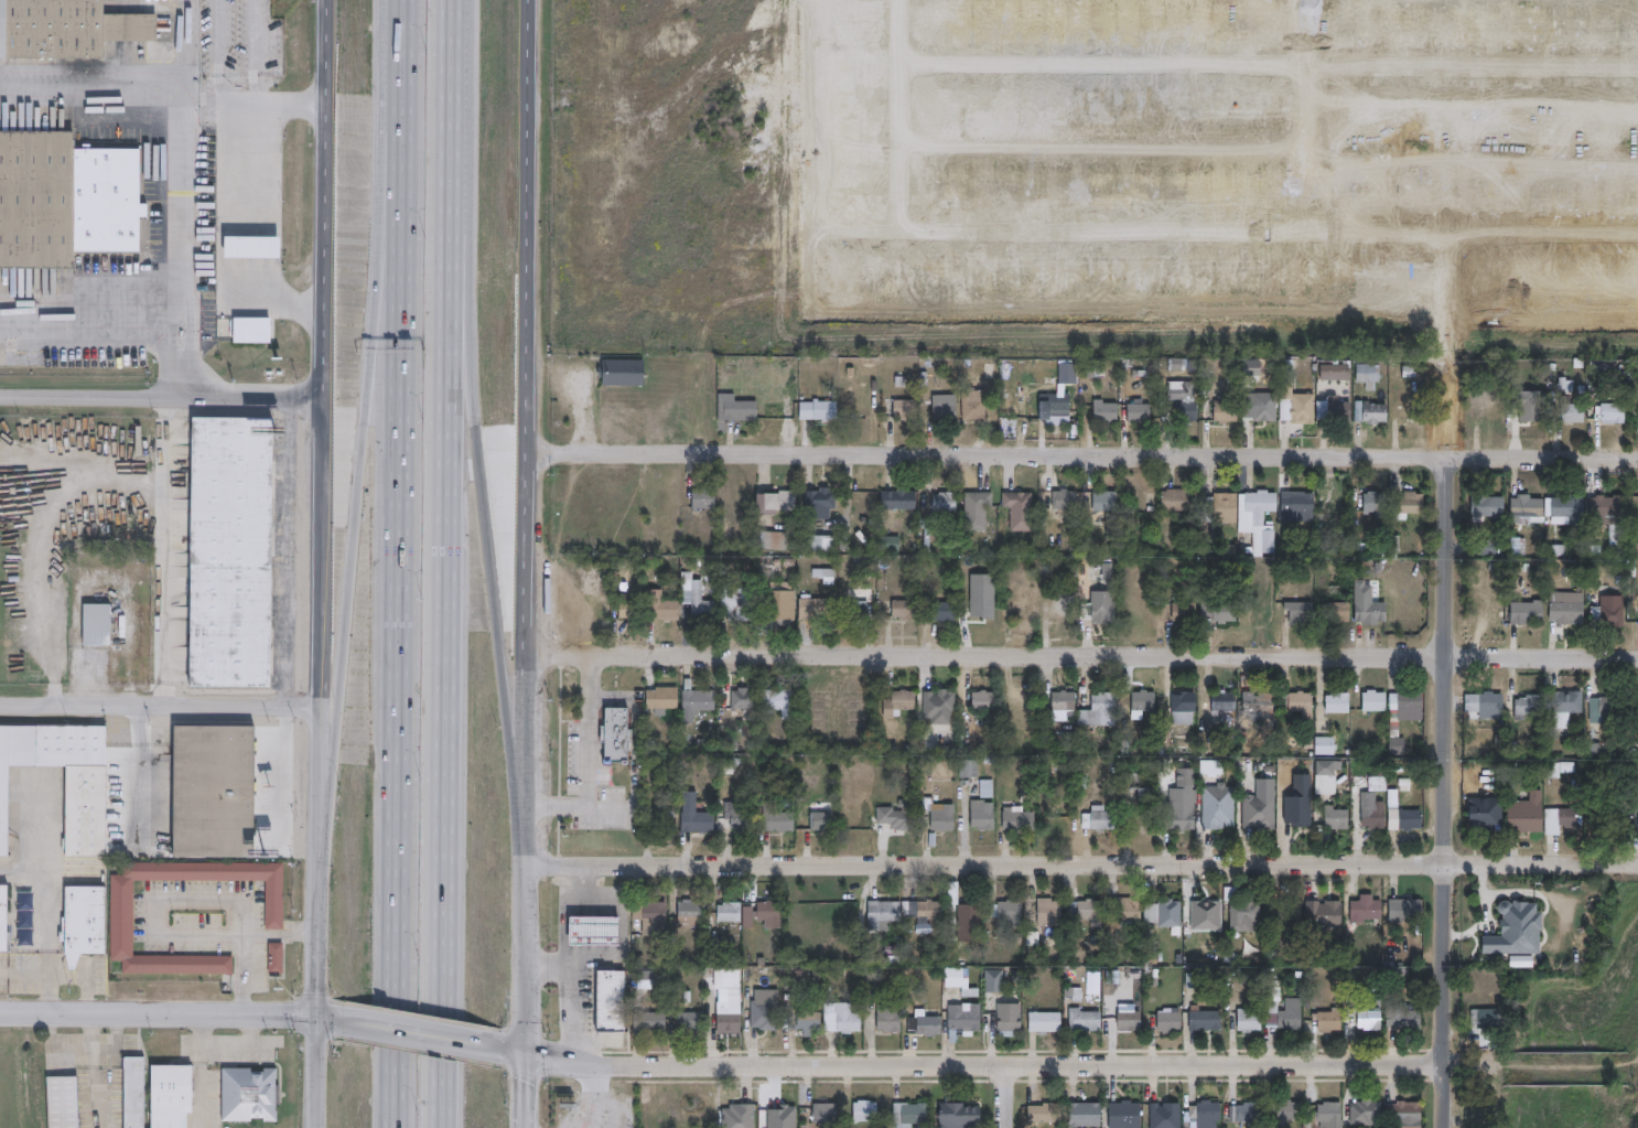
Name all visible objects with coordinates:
road: (405, 21)
building: (66, 30)
road: (185, 43)
road: (459, 89)
road: (227, 98)
road: (185, 106)
road: (330, 160)
building: (65, 198)
road: (223, 215)
road: (88, 312)
road: (180, 357)
road: (328, 362)
building: (625, 373)
building: (1068, 373)
building: (1337, 373)
building: (1368, 375)
road: (531, 397)
road: (164, 401)
building: (1186, 401)
building: (977, 404)
building: (1297, 406)
building: (1055, 407)
building: (946, 408)
building: (741, 409)
building: (907, 409)
building: (819, 410)
building: (1267, 410)
building: (1336, 410)
building: (1227, 411)
building: (1412, 411)
building: (1108, 412)
building: (1141, 412)
building: (1378, 412)
building: (1535, 412)
building: (1575, 412)
building: (1490, 413)
building: (1613, 413)
road: (1084, 453)
road: (310, 454)
road: (364, 461)
road: (483, 487)
building: (662, 498)
building: (705, 498)
building: (822, 499)
building: (1066, 499)
building: (1181, 499)
building: (901, 501)
building: (779, 502)
building: (946, 502)
building: (1108, 502)
building: (1377, 502)
building: (1414, 503)
building: (1300, 506)
building: (1490, 506)
building: (1605, 506)
building: (1220, 508)
building: (1570, 509)
building: (979, 511)
building: (1021, 511)
building: (1529, 511)
building: (1260, 520)
road: (39, 539)
building: (775, 540)
building: (892, 544)
building: (1517, 546)
building: (1492, 547)
building: (228, 552)
road: (291, 552)
road: (163, 563)
road: (401, 584)
building: (981, 595)
building: (702, 604)
building: (740, 604)
building: (778, 605)
building: (628, 606)
building: (661, 606)
building: (818, 609)
building: (861, 610)
building: (905, 610)
building: (1567, 610)
building: (946, 611)
building: (1221, 611)
building: (1102, 612)
building: (1339, 612)
building: (1373, 612)
building: (1186, 613)
building: (1530, 613)
building: (1303, 614)
building: (1608, 614)
building: (94, 624)
road: (322, 641)
road: (453, 654)
road: (1081, 654)
building: (8, 658)
building: (1636, 696)
building: (667, 699)
building: (744, 700)
building: (697, 701)
building: (985, 701)
building: (1066, 701)
building: (1145, 701)
building: (1377, 701)
building: (780, 702)
building: (945, 702)
building: (1225, 702)
building: (1259, 702)
building: (1408, 702)
building: (901, 703)
building: (1300, 703)
building: (1339, 703)
road: (159, 705)
building: (1488, 706)
building: (1531, 707)
building: (1185, 709)
building: (1567, 709)
building: (1609, 709)
building: (1101, 711)
building: (618, 737)
building: (730, 743)
building: (1327, 746)
building: (1399, 746)
road: (586, 756)
road: (144, 762)
building: (926, 765)
road: (290, 767)
building: (1326, 767)
building: (969, 771)
building: (1270, 787)
building: (988, 789)
building: (212, 792)
road: (1445, 792)
building: (1184, 796)
building: (1219, 807)
building: (1300, 809)
building: (83, 812)
building: (1149, 812)
building: (939, 814)
building: (697, 815)
building: (1489, 815)
building: (898, 816)
building: (984, 816)
building: (1264, 816)
building: (1527, 816)
building: (741, 817)
building: (1377, 817)
building: (1634, 817)
building: (779, 818)
building: (1338, 818)
building: (1101, 819)
building: (665, 820)
building: (1021, 820)
building: (1179, 820)
building: (1412, 820)
building: (1566, 820)
building: (822, 821)
road: (44, 823)
road: (1080, 863)
road: (22, 872)
building: (953, 894)
road: (151, 900)
building: (118, 901)
road: (567, 906)
building: (1128, 910)
building: (1292, 910)
building: (1407, 910)
building: (690, 911)
building: (923, 912)
building: (1367, 912)
building: (730, 913)
building: (1052, 913)
building: (1090, 913)
building: (1172, 913)
building: (653, 914)
building: (772, 914)
building: (883, 914)
building: (1009, 914)
building: (1328, 914)
building: (1247, 915)
building: (1207, 916)
building: (2, 918)
building: (25, 918)
building: (971, 922)
building: (80, 924)
road: (526, 924)
building: (1518, 930)
building: (594, 931)
gas station: (594, 931)
road: (280, 935)
road: (621, 942)
road: (45, 943)
road: (317, 947)
building: (272, 958)
road: (23, 973)
road: (89, 973)
building: (1399, 974)
road: (244, 975)
building: (875, 978)
building: (732, 980)
building: (961, 980)
building: (993, 980)
building: (650, 981)
building: (801, 982)
road: (567, 992)
building: (682, 996)
building: (608, 1000)
road: (158, 1013)
traffic signals: (316, 1014)
road: (330, 1016)
building: (766, 1016)
building: (890, 1017)
building: (1289, 1017)
building: (1405, 1018)
building: (1010, 1019)
building: (1131, 1019)
building: (1371, 1019)
building: (842, 1020)
building: (965, 1021)
building: (1084, 1021)
building: (1205, 1021)
building: (1488, 1021)
building: (1250, 1022)
building: (1333, 1022)
building: (650, 1023)
building: (689, 1023)
building: (729, 1023)
building: (810, 1023)
building: (1046, 1023)
building: (1170, 1023)
building: (926, 1027)
road: (424, 1032)
road: (119, 1043)
road: (224, 1043)
road: (53, 1050)
road: (516, 1050)
traffic signals: (528, 1053)
road: (984, 1065)
road: (95, 1071)
road: (316, 1071)
road: (198, 1084)
building: (169, 1087)
road: (527, 1091)
building: (131, 1092)
building: (247, 1094)
road: (1004, 1096)
road: (592, 1098)
building: (60, 1102)
building: (1291, 1109)
building: (1248, 1111)
building: (1367, 1111)
building: (826, 1113)
building: (865, 1113)
building: (960, 1113)
building: (1047, 1113)
building: (1086, 1113)
building: (1209, 1113)
building: (1411, 1113)
building: (912, 1114)
building: (1125, 1115)
building: (1171, 1115)
building: (1332, 1115)
building: (740, 1117)

